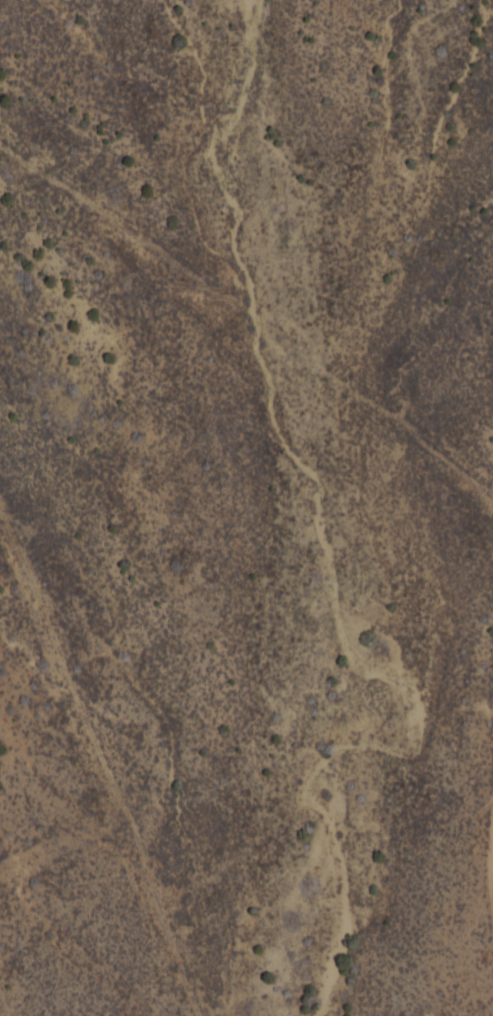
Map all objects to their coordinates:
river: (320, 557)

